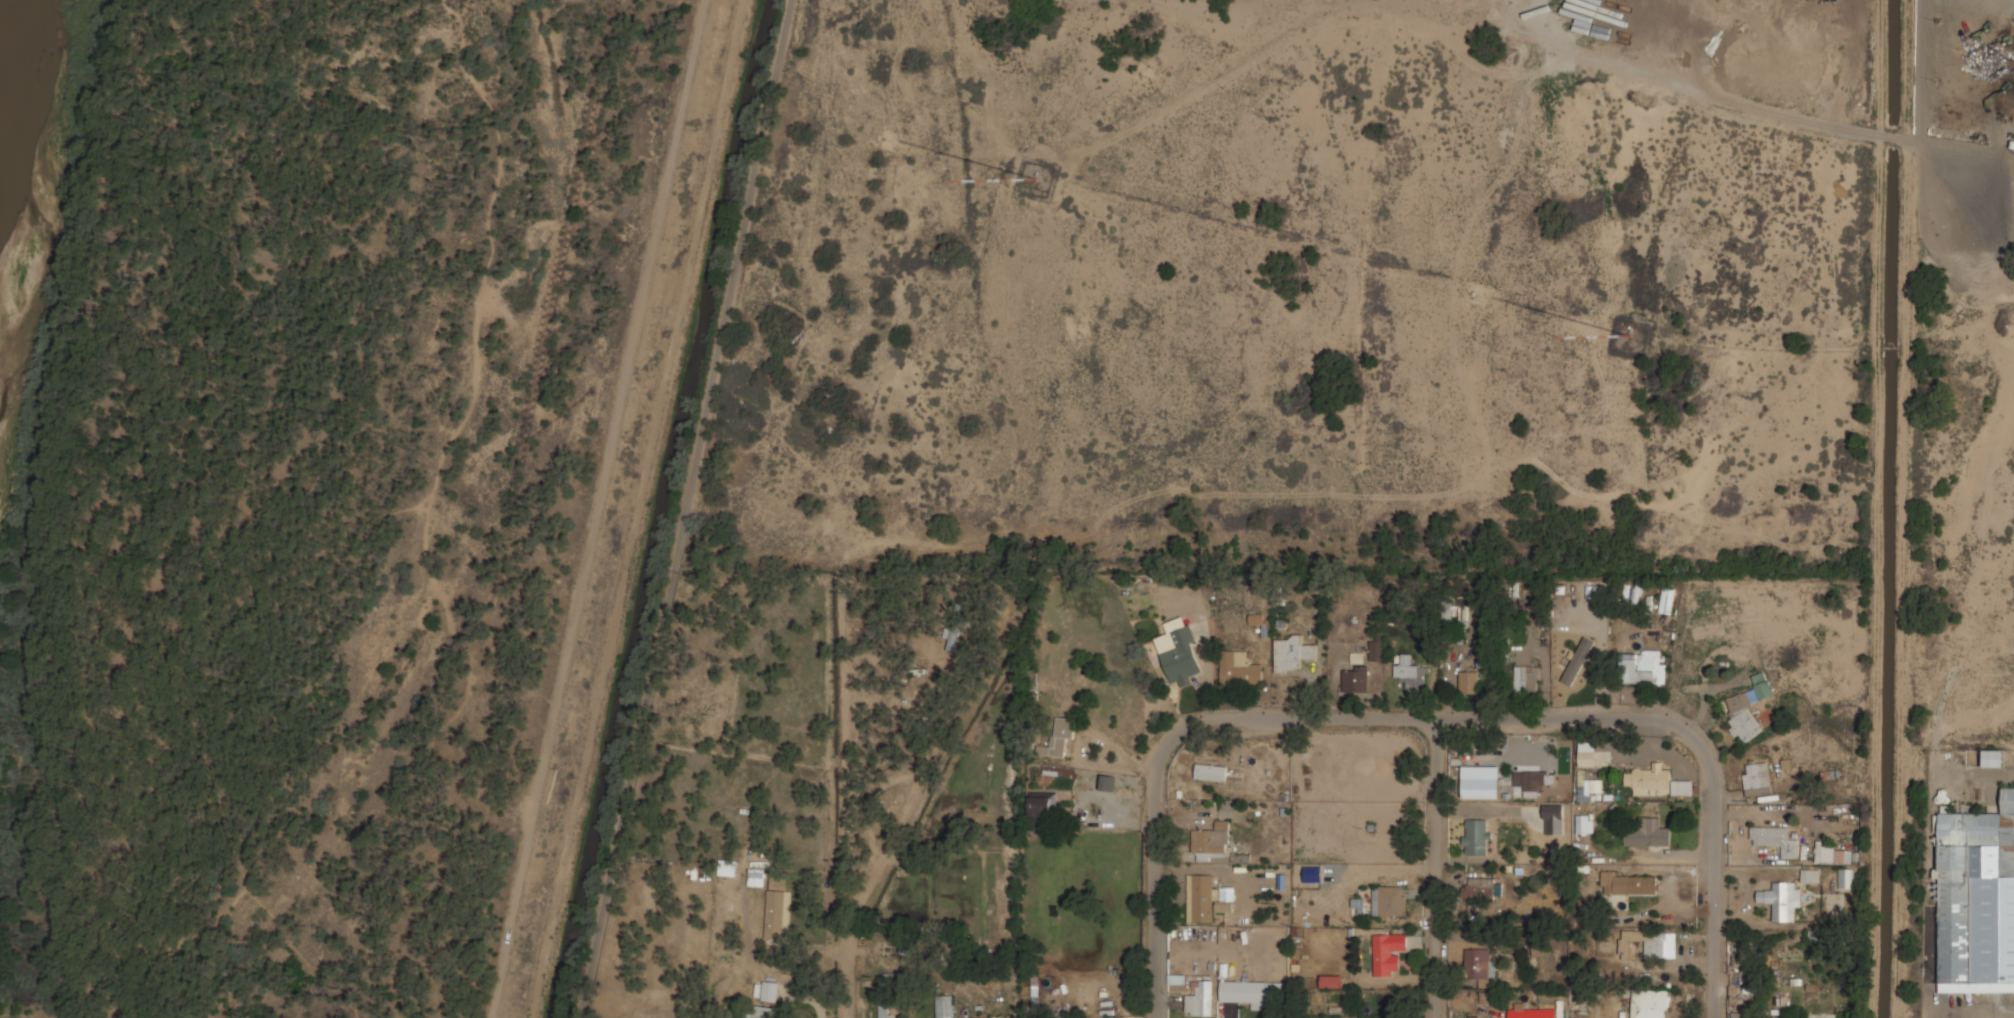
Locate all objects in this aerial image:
road: (469, 403)
road: (176, 507)
road: (593, 509)
road: (686, 509)
building: (1667, 600)
building: (1457, 615)
building: (1256, 618)
building: (952, 638)
building: (1376, 649)
building: (1292, 653)
building: (1181, 656)
road: (1, 657)
building: (1356, 657)
building: (1577, 661)
building: (1239, 668)
building: (1642, 668)
building: (1412, 675)
building: (1525, 678)
building: (1355, 679)
building: (1469, 681)
building: (1749, 707)
road: (1429, 728)
building: (1061, 738)
building: (1589, 754)
building: (1994, 758)
building: (1212, 771)
building: (1757, 778)
building: (1650, 780)
building: (1527, 782)
building: (1595, 785)
building: (1681, 787)
building: (1584, 792)
building: (1043, 806)
building: (1553, 819)
building: (1584, 823)
road: (243, 827)
building: (1648, 832)
building: (1477, 837)
building: (1212, 840)
building: (1776, 840)
building: (1837, 855)
building: (1312, 873)
road: (1433, 873)
building: (1811, 875)
building: (756, 877)
building: (1847, 877)
building: (1630, 884)
building: (1482, 888)
building: (1207, 900)
building: (1783, 900)
building: (1977, 900)
building: (1389, 901)
building: (1357, 905)
building: (775, 914)
building: (1644, 944)
building: (1387, 953)
building: (1479, 965)
building: (1331, 981)
building: (770, 991)
building: (1245, 992)
building: (1199, 999)
building: (1650, 1003)
building: (945, 1006)
building: (885, 1010)
building: (762, 1012)
building: (1528, 1013)
building: (1473, 1016)
building: (1819, 1016)
building: (1095, 1017)

